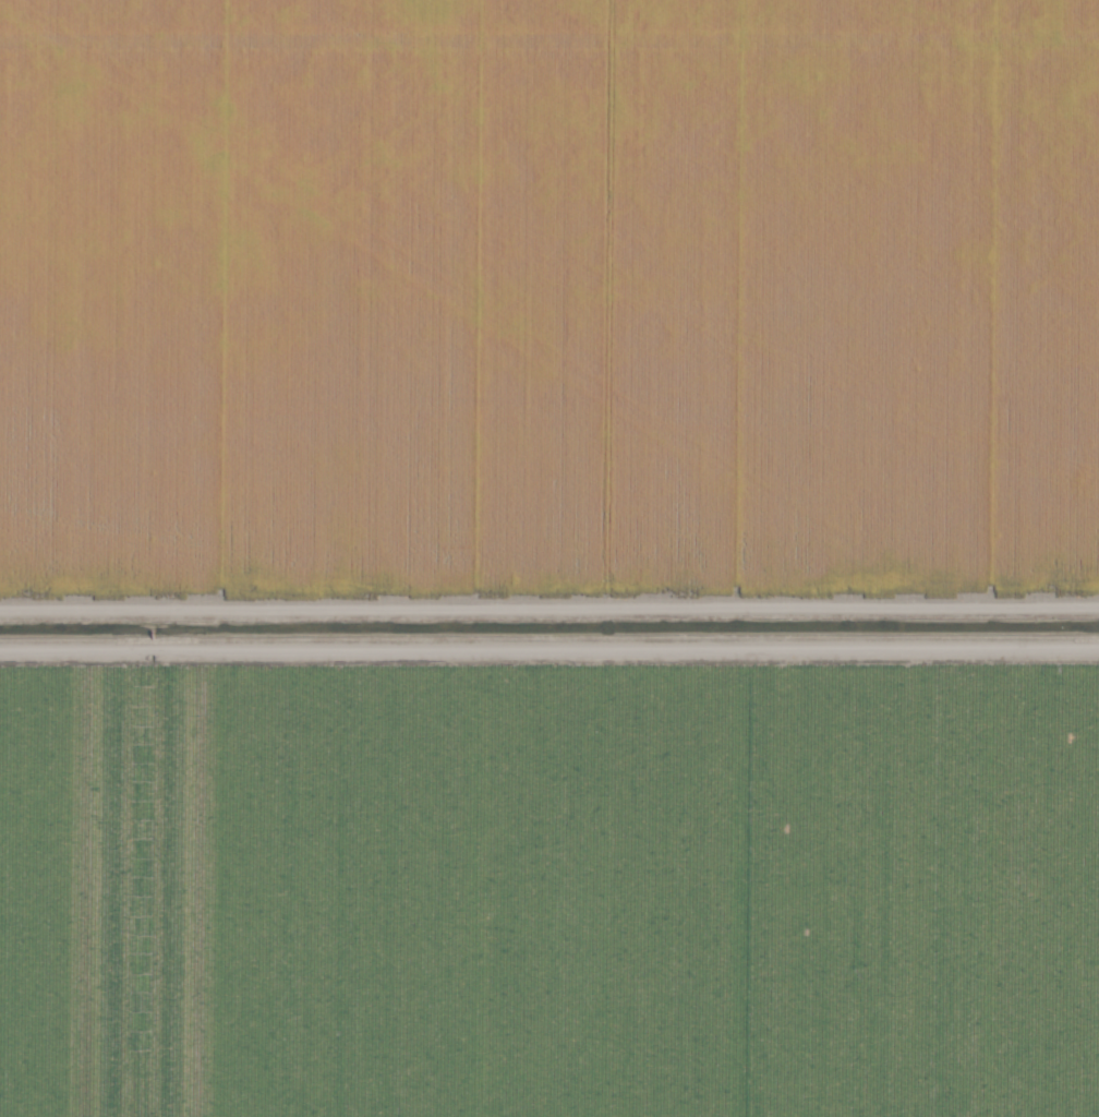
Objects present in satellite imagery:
road: (549, 644)

